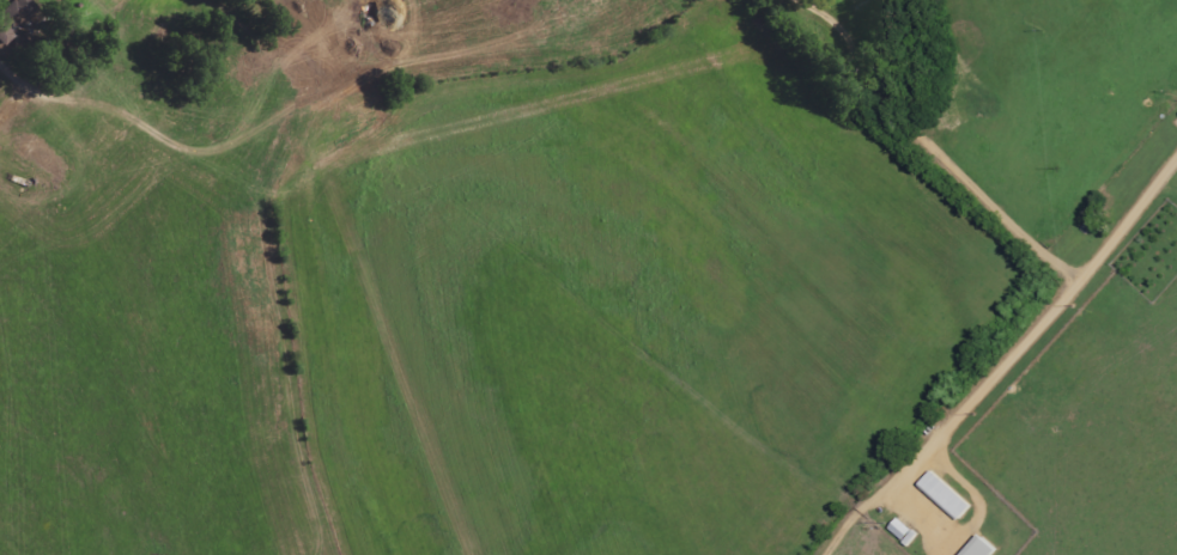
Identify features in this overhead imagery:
building: (16, 18)
building: (328, 55)
building: (12, 110)
road: (991, 193)
building: (946, 498)
building: (904, 532)
building: (983, 548)

